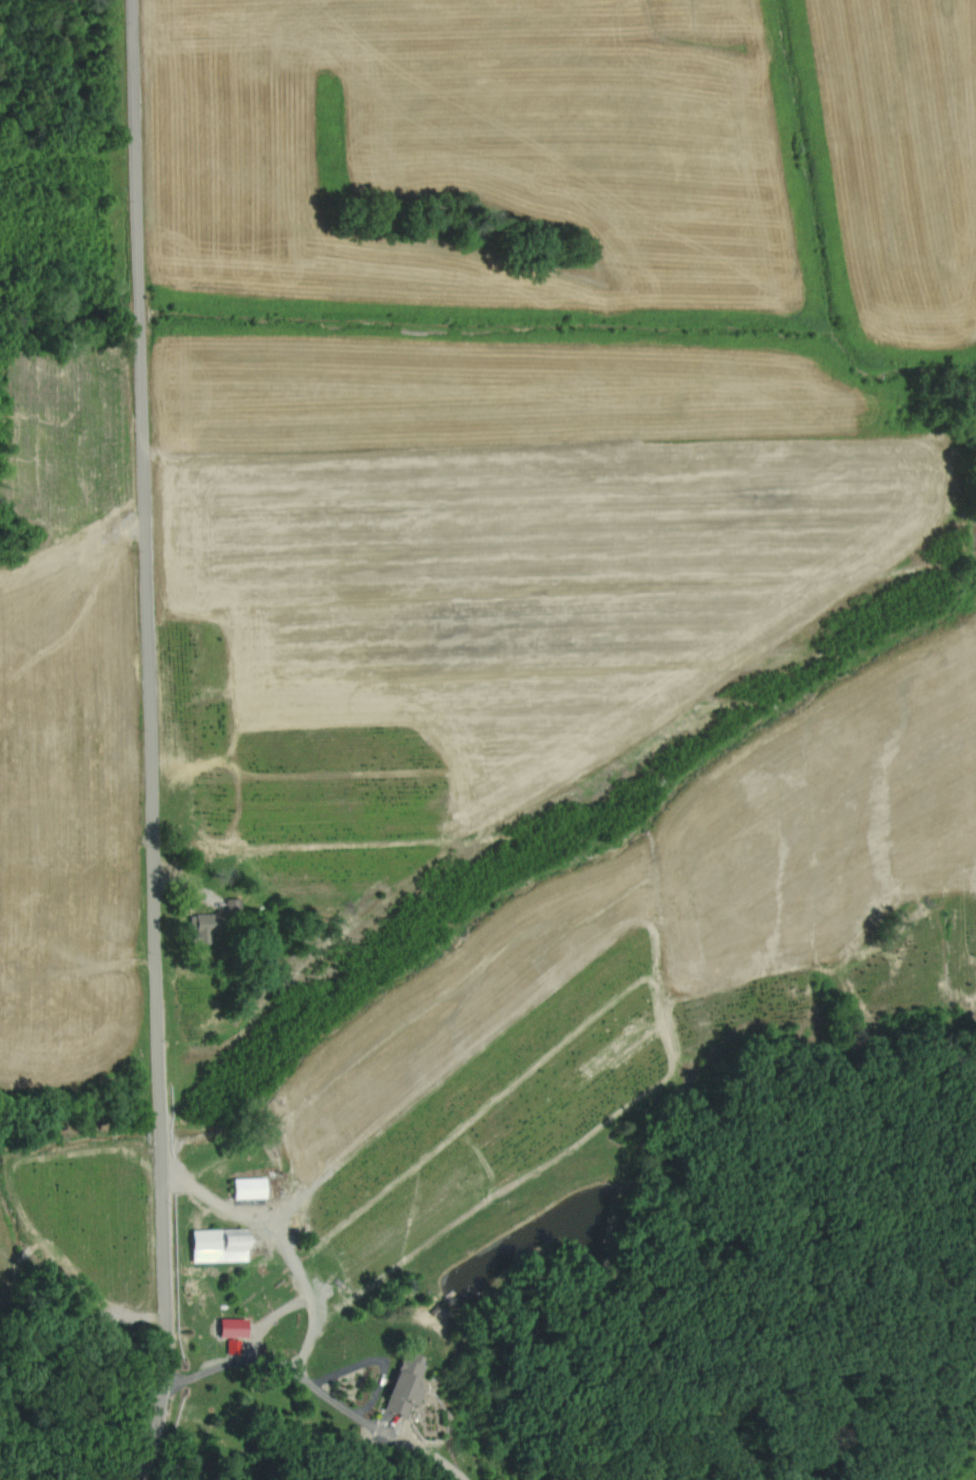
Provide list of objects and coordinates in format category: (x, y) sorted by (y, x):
road: (151, 742)
building: (229, 904)
building: (200, 926)
building: (247, 1187)
building: (217, 1244)
building: (231, 1327)
building: (388, 1406)

